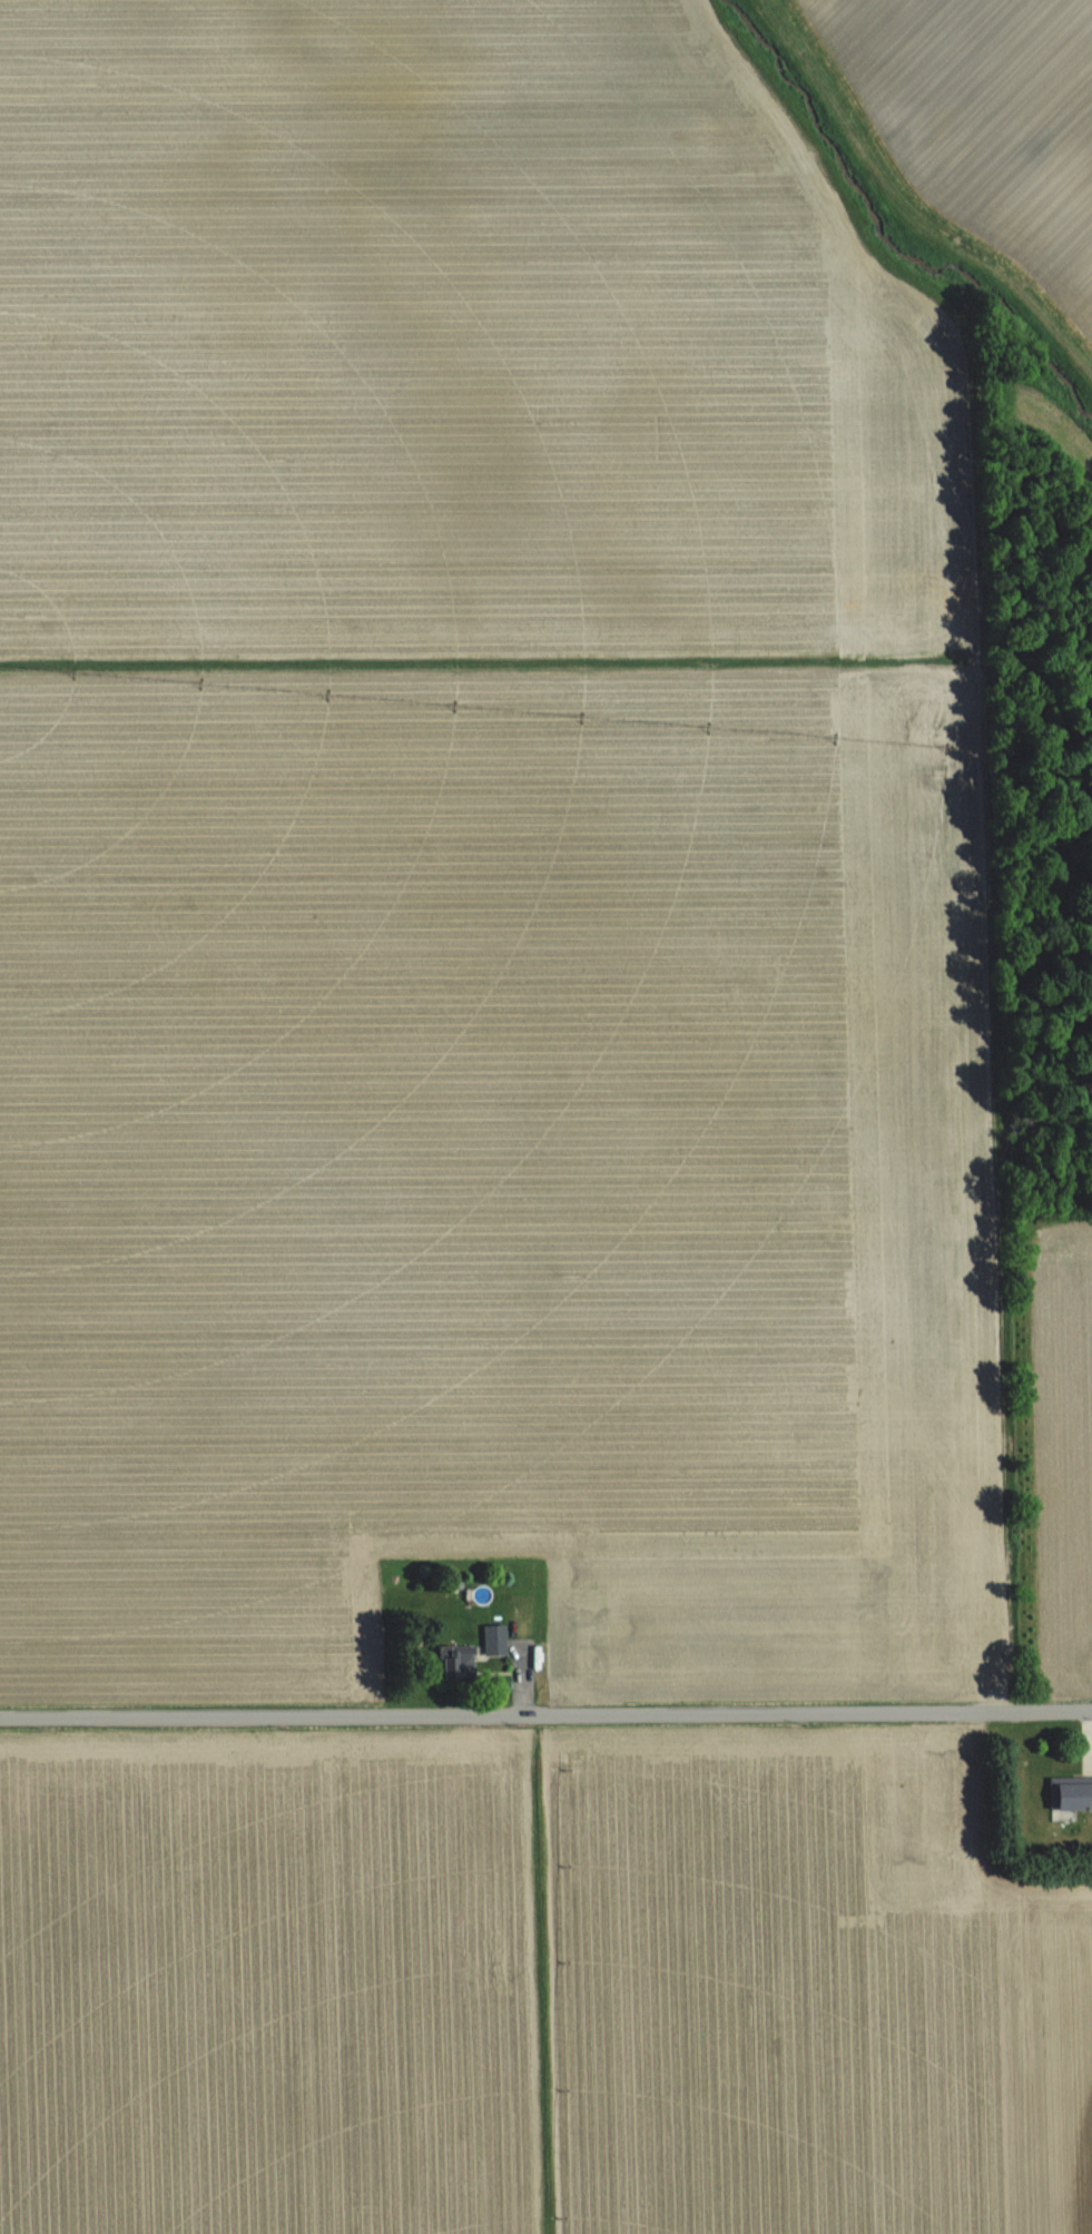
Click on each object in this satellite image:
building: (498, 1638)
building: (461, 1662)
road: (545, 1706)
building: (1073, 1792)

